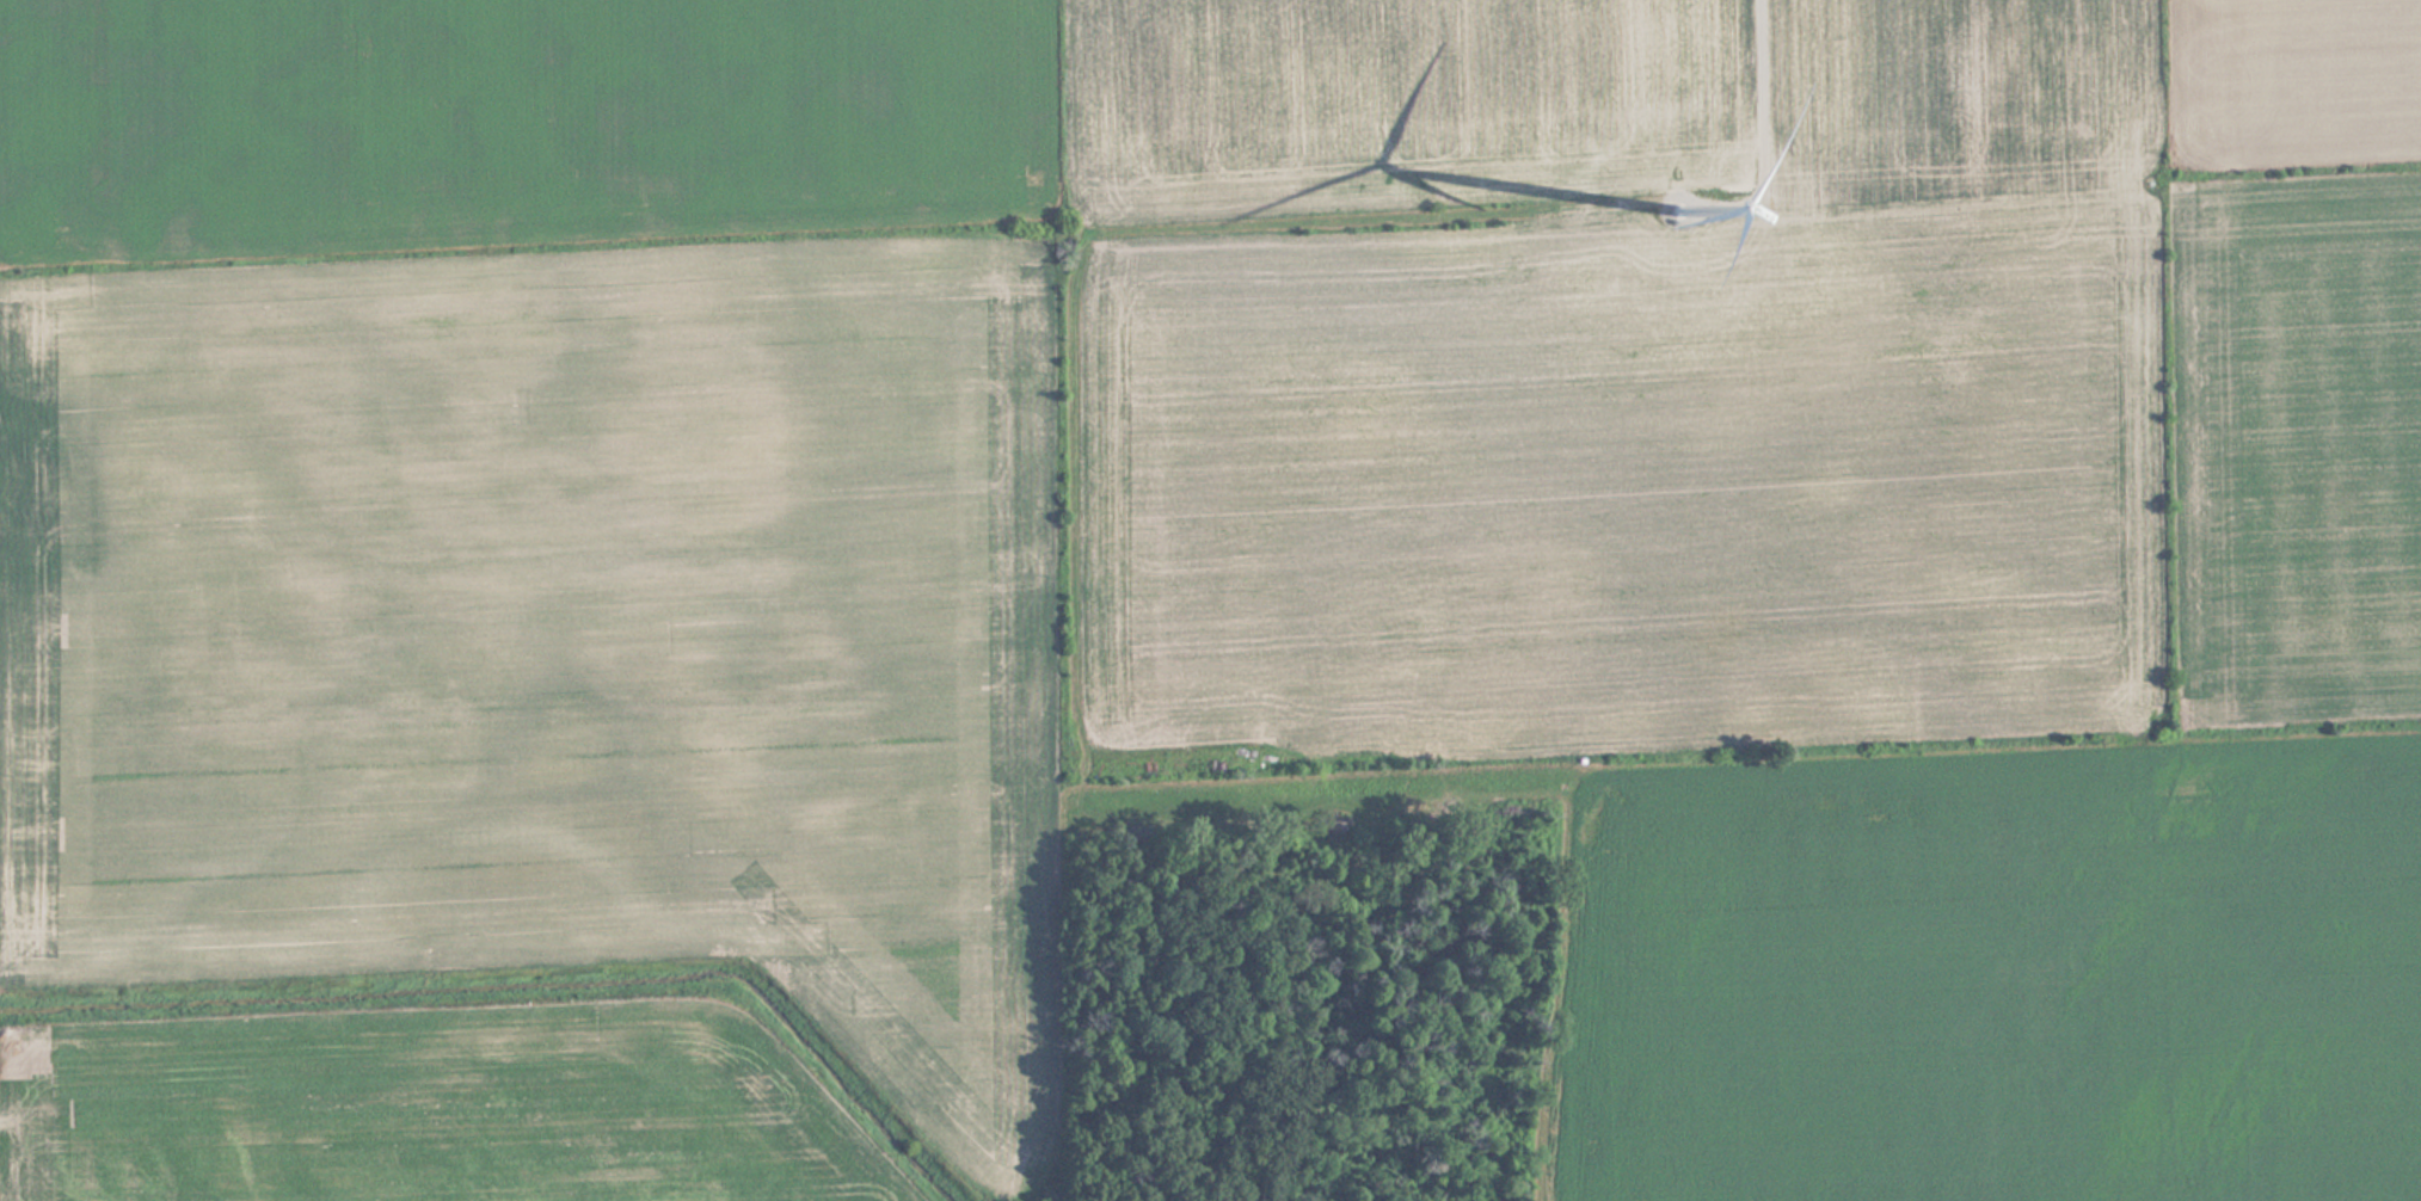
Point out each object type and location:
wind turbine: (1683, 215)

